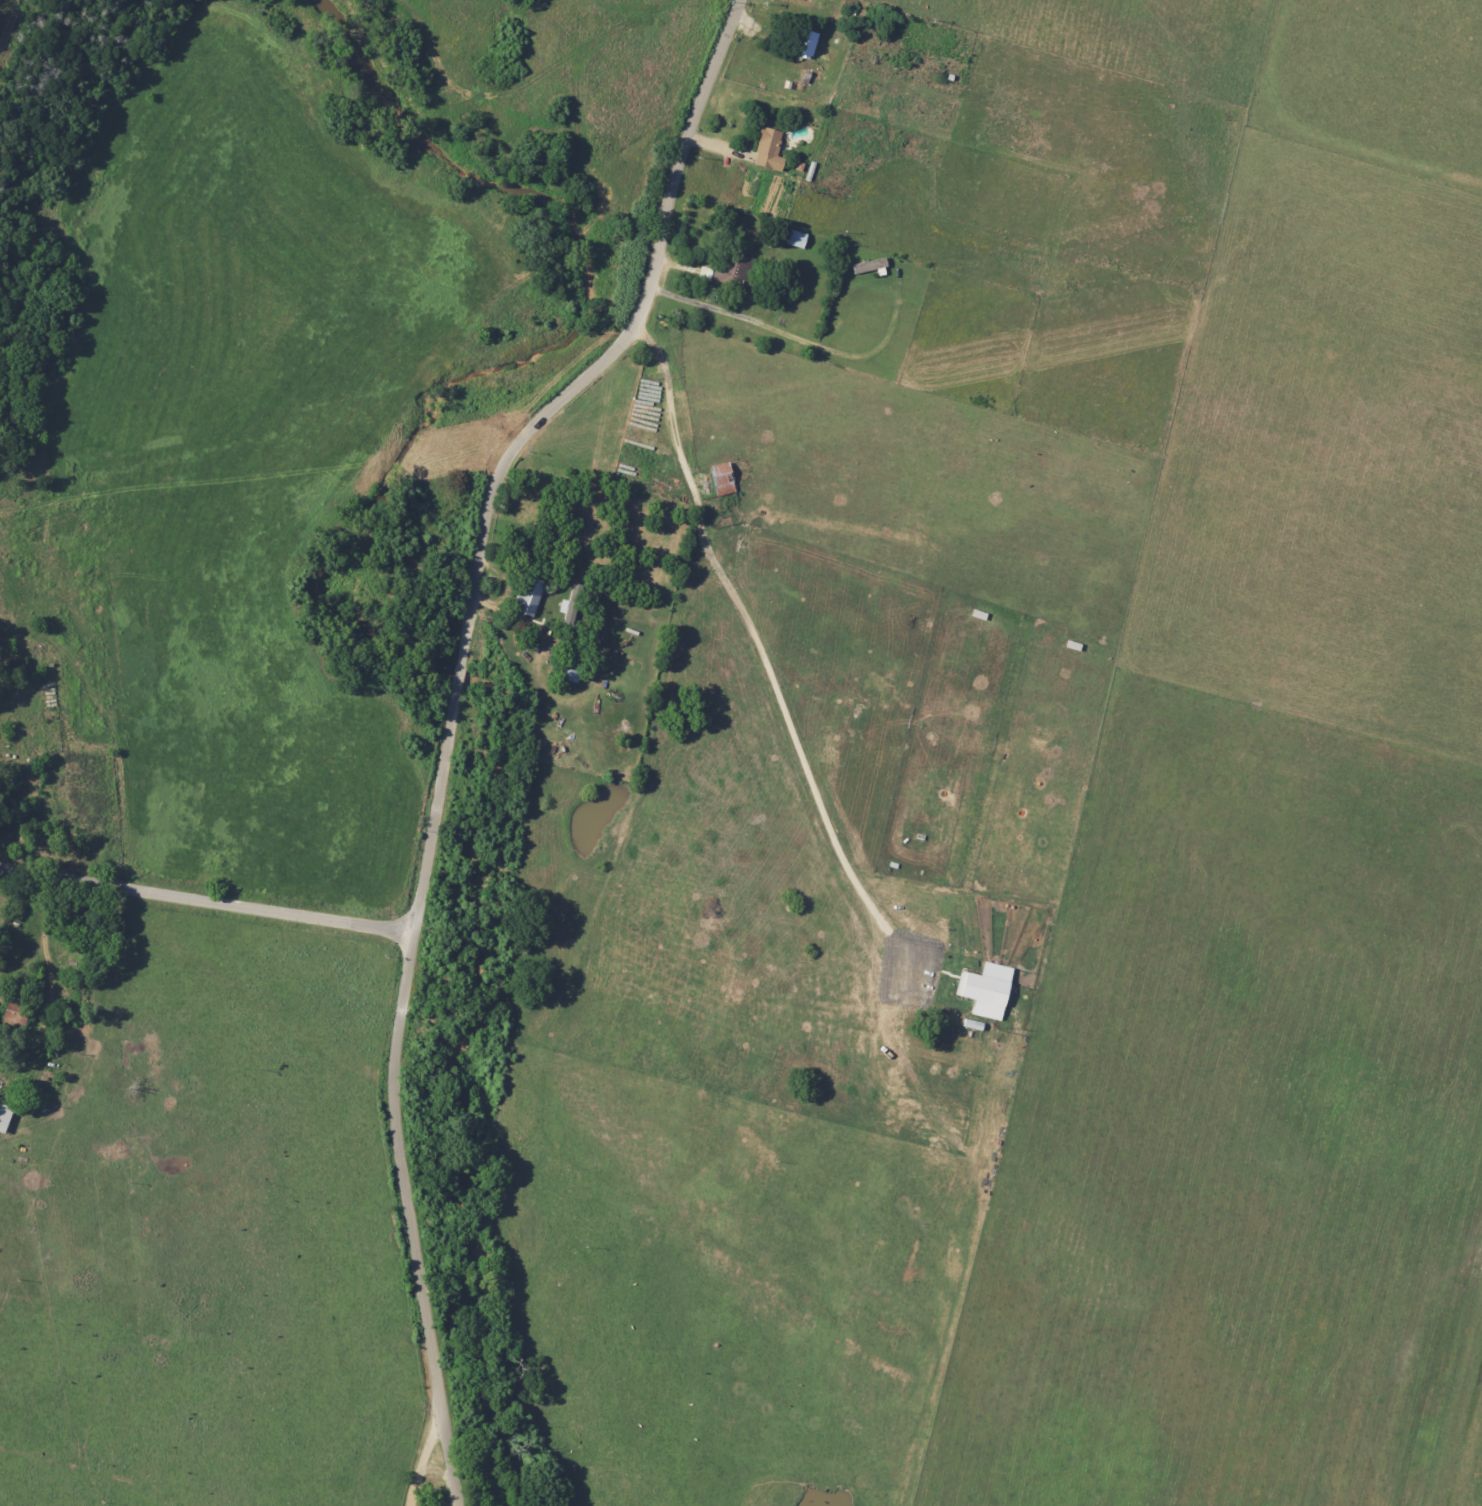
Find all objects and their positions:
building: (806, 42)
building: (770, 149)
building: (796, 238)
building: (713, 271)
road: (6, 388)
road: (518, 439)
building: (723, 478)
road: (0, 574)
building: (529, 595)
building: (571, 604)
road: (759, 652)
building: (571, 664)
road: (18, 788)
road: (207, 901)
building: (987, 989)
building: (5, 1117)
road: (410, 1220)
road: (427, 1451)

